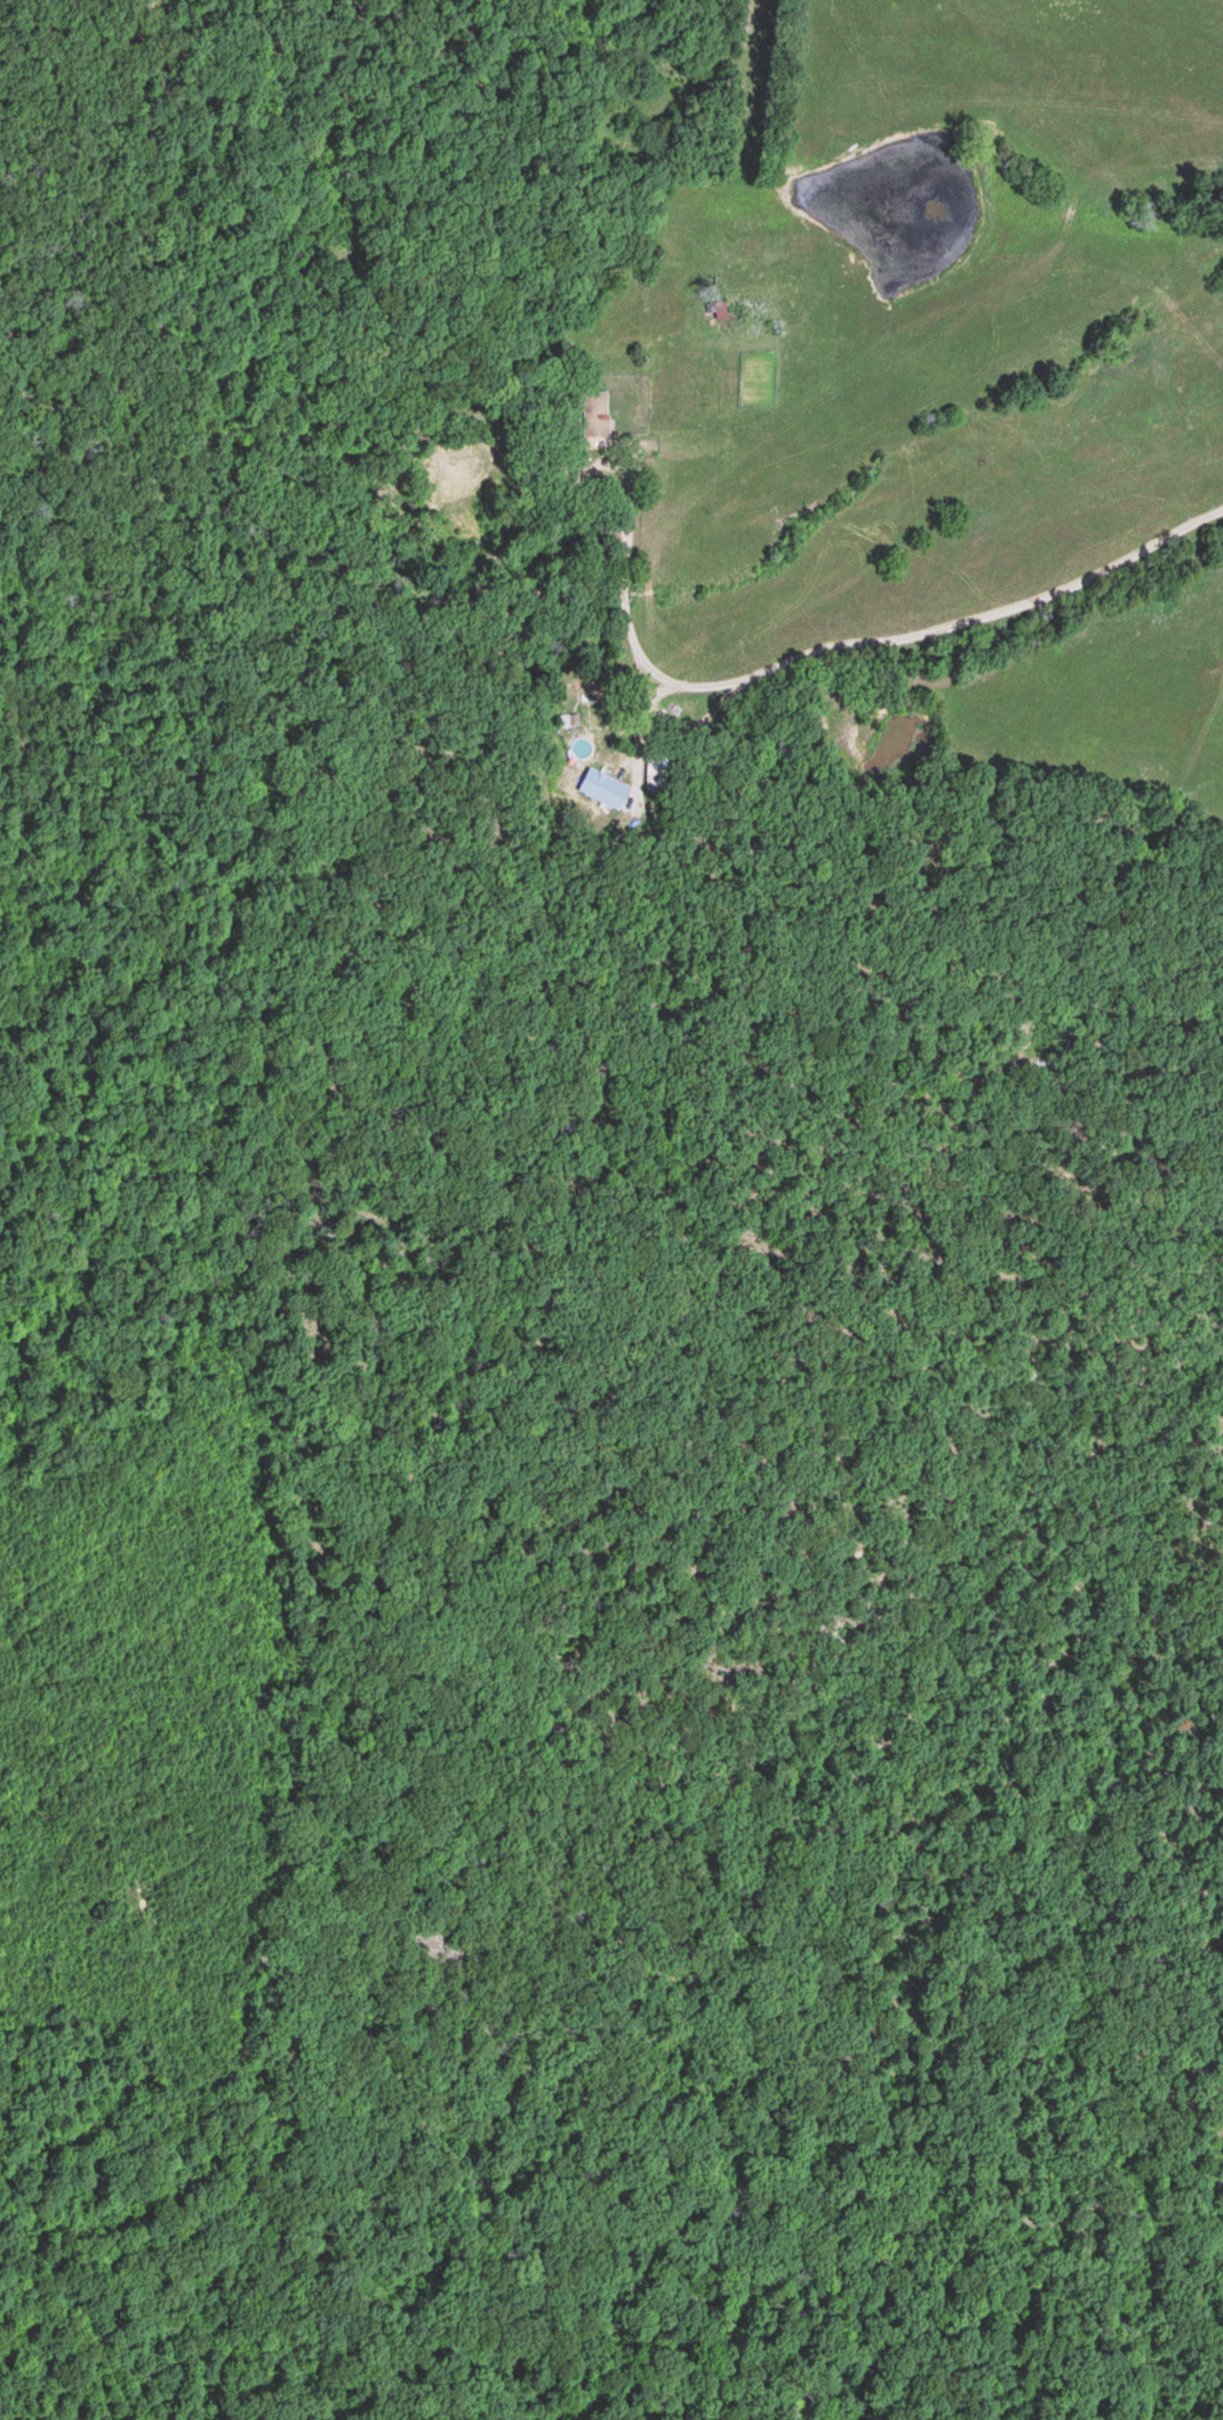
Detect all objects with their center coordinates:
crop: (1004, 87)
road: (666, 171)
building: (719, 310)
building: (595, 414)
building: (596, 708)
building: (568, 720)
building: (657, 772)

